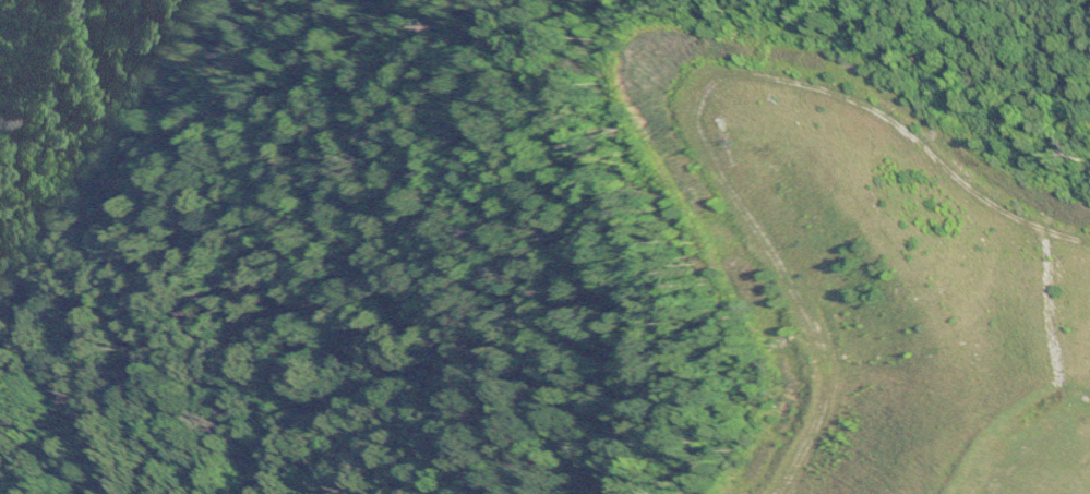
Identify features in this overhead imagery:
quarry: (857, 254)

